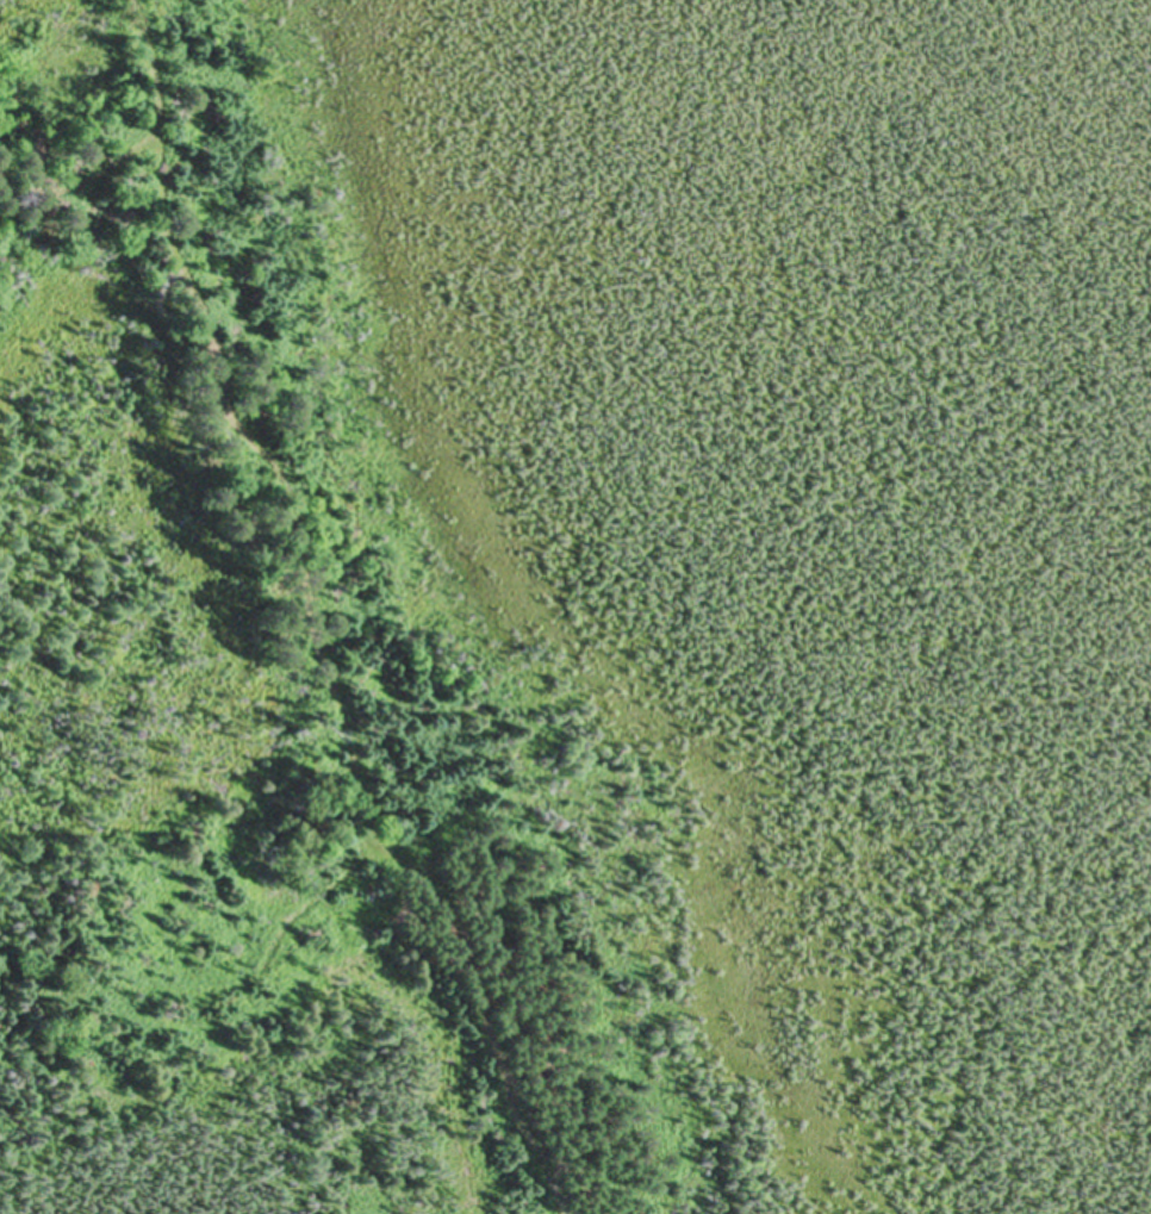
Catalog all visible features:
road: (353, 615)

